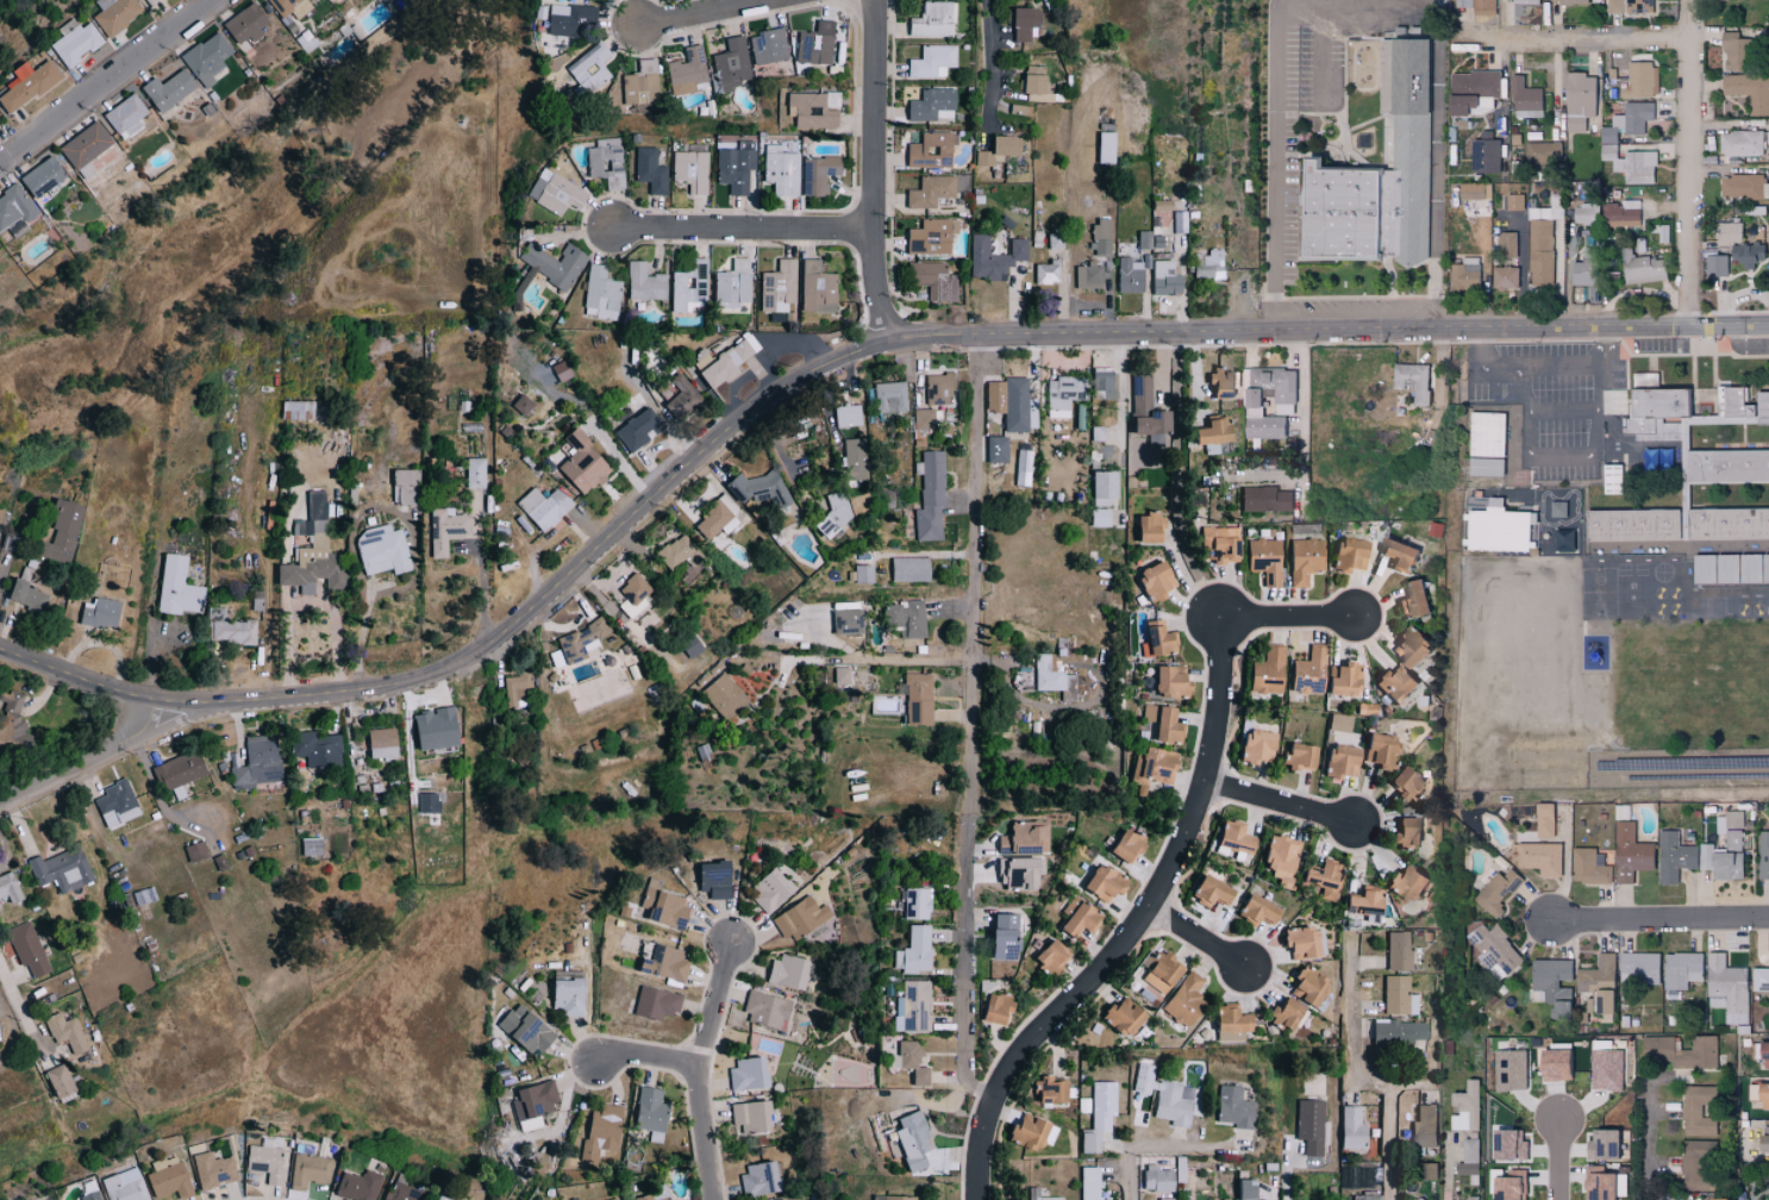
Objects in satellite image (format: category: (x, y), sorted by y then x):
building: (152, 1)
building: (1525, 1)
building: (1568, 1)
building: (1440, 2)
building: (1464, 2)
road: (1282, 4)
building: (285, 5)
road: (1357, 5)
building: (1630, 6)
building: (1483, 7)
building: (117, 14)
road: (706, 14)
building: (931, 19)
building: (573, 20)
building: (1023, 21)
building: (246, 24)
road: (1574, 38)
building: (76, 42)
building: (815, 44)
building: (767, 45)
building: (1736, 51)
road: (1323, 57)
building: (208, 60)
building: (931, 61)
building: (731, 62)
road: (989, 68)
building: (589, 70)
building: (686, 70)
building: (1031, 77)
road: (106, 79)
building: (1638, 80)
building: (27, 86)
building: (639, 88)
building: (170, 90)
building: (1471, 90)
building: (1749, 90)
building: (829, 98)
building: (1524, 99)
building: (1577, 100)
building: (930, 104)
building: (805, 108)
building: (127, 117)
building: (1627, 121)
building: (1740, 143)
building: (88, 148)
building: (996, 149)
building: (930, 150)
building: (1543, 152)
building: (1484, 155)
building: (1404, 158)
building: (605, 161)
building: (1630, 163)
road: (1690, 163)
building: (733, 168)
building: (688, 169)
road: (1277, 169)
building: (648, 170)
building: (779, 171)
road: (868, 171)
building: (818, 174)
building: (45, 177)
building: (1742, 186)
road: (1438, 187)
building: (927, 190)
building: (551, 192)
building: (1474, 192)
building: (1514, 201)
building: (17, 207)
building: (1551, 208)
building: (1332, 210)
building: (1606, 214)
road: (739, 230)
building: (929, 236)
building: (1100, 236)
building: (1508, 244)
building: (1738, 244)
building: (1540, 251)
building: (992, 256)
building: (551, 263)
building: (1207, 264)
building: (1715, 264)
building: (1639, 268)
building: (1044, 271)
building: (1586, 273)
building: (1127, 274)
building: (1464, 274)
building: (1086, 275)
building: (1163, 277)
building: (1505, 277)
building: (930, 280)
building: (668, 285)
building: (731, 285)
building: (777, 286)
building: (815, 287)
building: (600, 292)
building: (714, 362)
road: (825, 362)
road: (1561, 368)
building: (1411, 381)
building: (1101, 382)
building: (1218, 383)
building: (937, 387)
road: (1121, 389)
building: (1061, 392)
building: (675, 394)
building: (887, 396)
building: (1282, 400)
building: (1007, 401)
building: (1744, 404)
building: (1142, 407)
building: (1652, 407)
building: (296, 410)
road: (1564, 411)
building: (844, 414)
building: (926, 418)
road: (592, 420)
building: (636, 427)
building: (1206, 431)
road: (1304, 431)
building: (1487, 433)
building: (994, 449)
road: (1543, 457)
building: (579, 464)
building: (1726, 465)
building: (1484, 467)
building: (473, 471)
building: (1611, 479)
road: (1173, 481)
building: (1100, 483)
building: (408, 486)
building: (755, 488)
building: (929, 499)
building: (1263, 499)
building: (318, 502)
building: (540, 506)
building: (1557, 510)
building: (712, 515)
building: (1098, 517)
building: (1727, 524)
building: (1631, 525)
building: (1145, 526)
building: (1434, 529)
building: (1498, 529)
building: (446, 530)
building: (63, 532)
building: (1563, 540)
building: (1221, 543)
building: (385, 549)
building: (673, 550)
building: (1346, 554)
building: (1394, 554)
building: (1263, 557)
building: (1301, 560)
building: (315, 561)
building: (906, 568)
building: (1730, 568)
building: (861, 573)
road: (974, 574)
road: (1186, 577)
building: (1151, 580)
building: (179, 587)
building: (629, 588)
road: (483, 589)
building: (29, 595)
building: (1411, 599)
road: (268, 605)
building: (102, 612)
building: (904, 617)
road: (1290, 617)
building: (848, 620)
building: (235, 631)
road: (358, 633)
building: (1154, 638)
building: (688, 644)
building: (1409, 645)
road: (894, 660)
building: (1264, 670)
building: (1307, 670)
building: (1044, 674)
building: (1338, 680)
building: (1164, 681)
building: (1393, 682)
building: (513, 688)
building: (723, 695)
building: (915, 698)
building: (12, 701)
building: (1338, 721)
building: (1158, 723)
building: (439, 727)
building: (385, 742)
building: (1252, 745)
building: (319, 749)
building: (1376, 750)
road: (113, 752)
building: (1295, 755)
building: (1338, 761)
building: (258, 762)
building: (1148, 767)
building: (182, 769)
building: (1402, 782)
road: (1737, 792)
building: (430, 802)
road: (1282, 802)
building: (118, 804)
building: (1543, 820)
building: (1404, 831)
building: (1023, 836)
building: (1230, 837)
building: (313, 845)
building: (1121, 845)
building: (1733, 848)
road: (4, 850)
building: (198, 851)
building: (1630, 854)
building: (1277, 855)
building: (1763, 855)
building: (1673, 857)
building: (1538, 858)
building: (1588, 868)
building: (63, 870)
building: (1319, 876)
building: (710, 879)
building: (1407, 882)
building: (1098, 883)
road: (1163, 886)
building: (10, 888)
building: (765, 889)
building: (1205, 890)
building: (1496, 892)
building: (1361, 900)
building: (918, 904)
building: (661, 905)
building: (1252, 910)
building: (798, 917)
road: (1663, 918)
building: (1000, 936)
road: (1201, 937)
building: (1300, 942)
building: (1494, 946)
building: (29, 948)
building: (912, 950)
building: (1396, 951)
building: (1046, 956)
road: (965, 961)
building: (662, 962)
building: (1638, 967)
building: (1681, 970)
building: (786, 971)
building: (1158, 973)
building: (1759, 980)
building: (1552, 986)
building: (1302, 987)
building: (1598, 987)
building: (1727, 988)
building: (1396, 995)
building: (570, 996)
building: (1182, 998)
building: (654, 1002)
building: (909, 1007)
building: (990, 1007)
road: (17, 1008)
building: (762, 1008)
building: (1281, 1012)
building: (1119, 1015)
building: (1226, 1020)
road: (8, 1029)
building: (529, 1030)
building: (68, 1032)
building: (1395, 1032)
building: (1677, 1051)
building: (1763, 1054)
road: (645, 1057)
building: (907, 1061)
building: (1552, 1065)
road: (698, 1067)
building: (1508, 1070)
building: (1605, 1070)
building: (744, 1073)
building: (62, 1081)
road: (1375, 1082)
building: (1048, 1089)
building: (1759, 1094)
building: (536, 1101)
building: (1169, 1105)
building: (1232, 1107)
building: (1465, 1107)
building: (1698, 1112)
building: (654, 1113)
building: (1098, 1115)
building: (746, 1117)
building: (531, 1124)
building: (1308, 1125)
building: (1349, 1127)
building: (1421, 1127)
building: (1021, 1131)
building: (1763, 1139)
building: (908, 1140)
road: (1146, 1145)
building: (1506, 1145)
building: (1601, 1145)
road: (1656, 1145)
road: (977, 1149)
building: (1468, 1158)
road: (1558, 1158)
building: (268, 1163)
building: (1696, 1165)
building: (214, 1169)
building: (311, 1170)
building: (1425, 1171)
building: (170, 1177)
building: (758, 1177)
building: (1361, 1177)
building: (1155, 1179)
road: (1287, 1182)
building: (1087, 1183)
building: (1602, 1183)
building: (1507, 1185)
building: (126, 1186)
building: (360, 1186)
building: (1240, 1189)
building: (402, 1192)
building: (1033, 1192)
building: (93, 1195)
building: (1364, 1196)
building: (646, 1198)
building: (889, 1198)
building: (1473, 1198)
building: (618, 1199)
building: (668, 1199)
building: (1162, 1199)
building: (1411, 1199)

